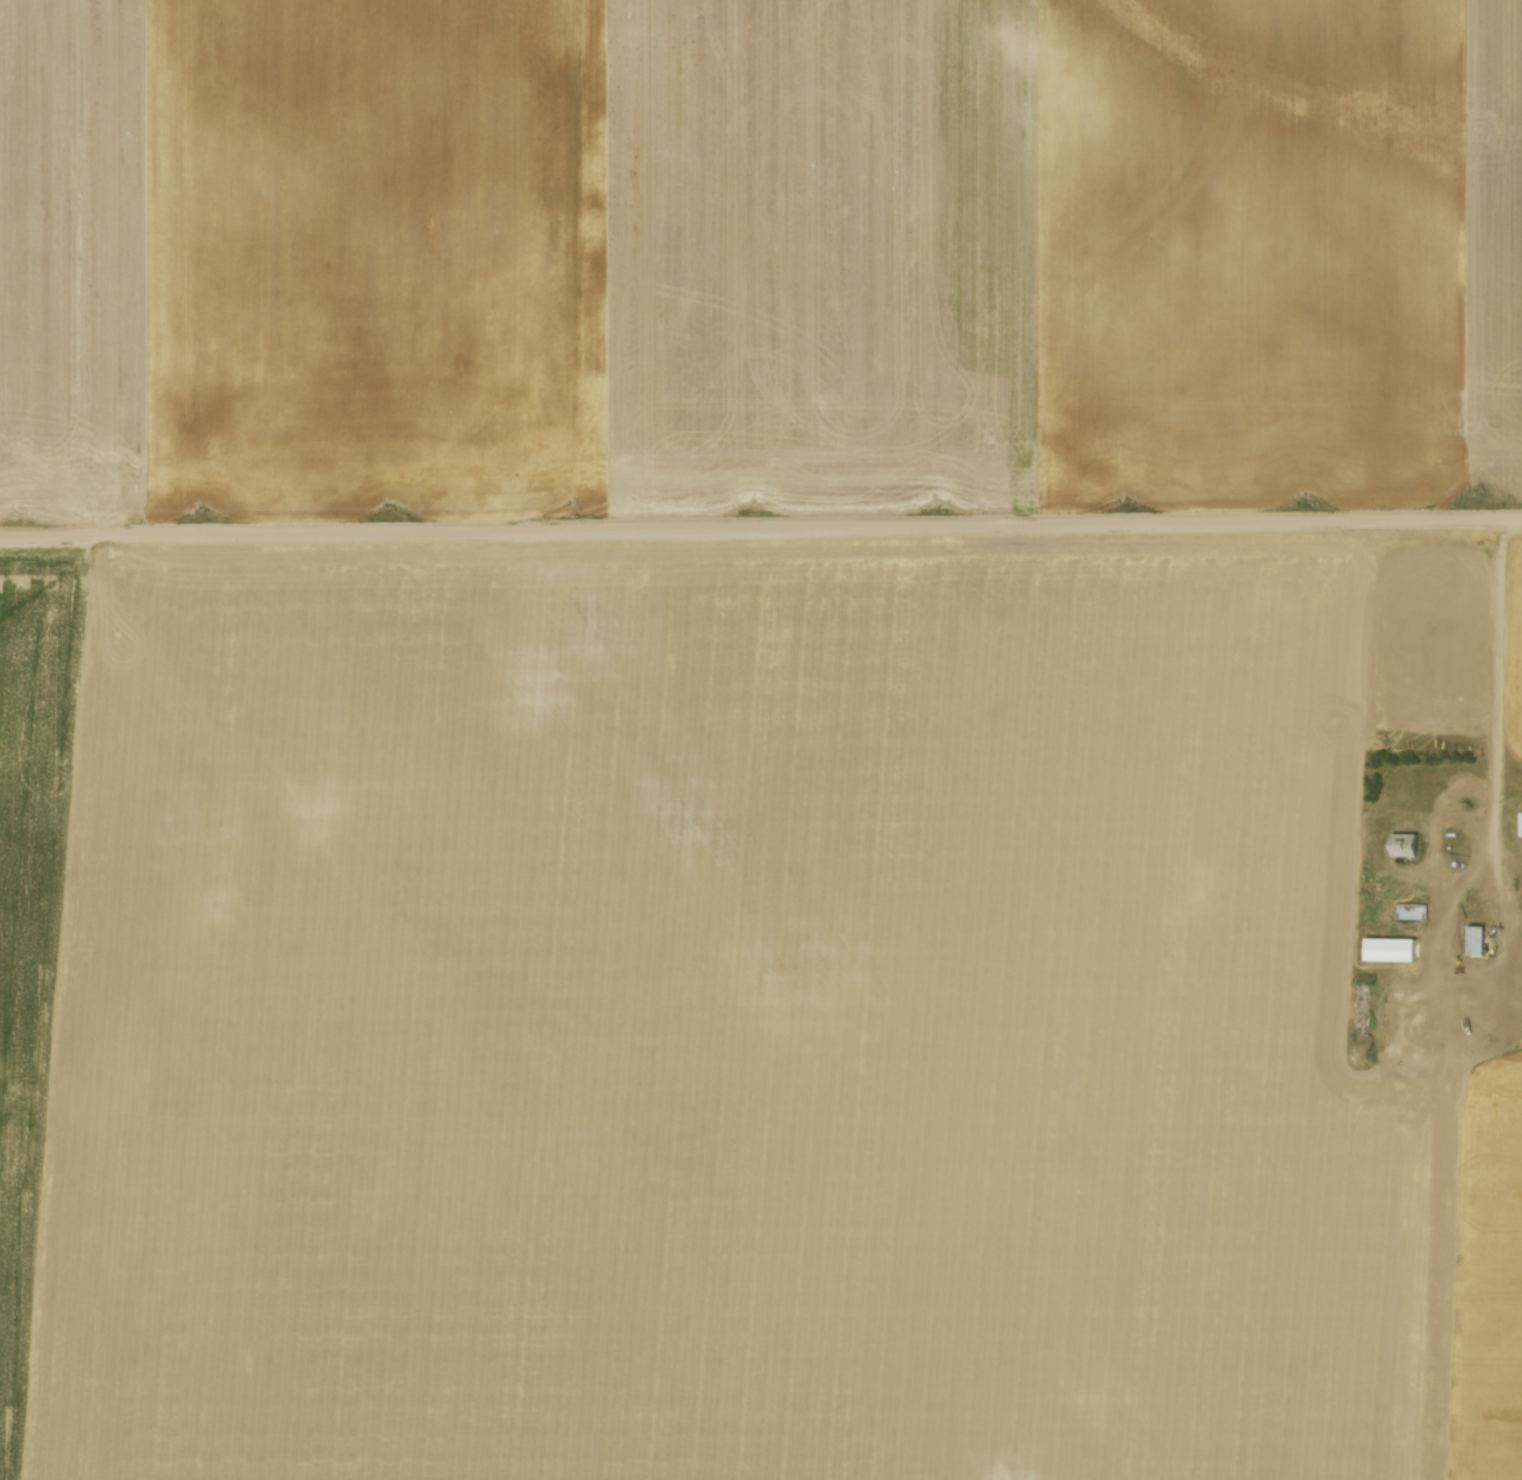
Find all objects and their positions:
crop: (756, 253)
road: (760, 527)
crop: (1516, 661)
road: (1498, 783)
building: (1521, 824)
building: (1408, 844)
building: (1414, 909)
building: (1477, 939)
crop: (721, 1023)

